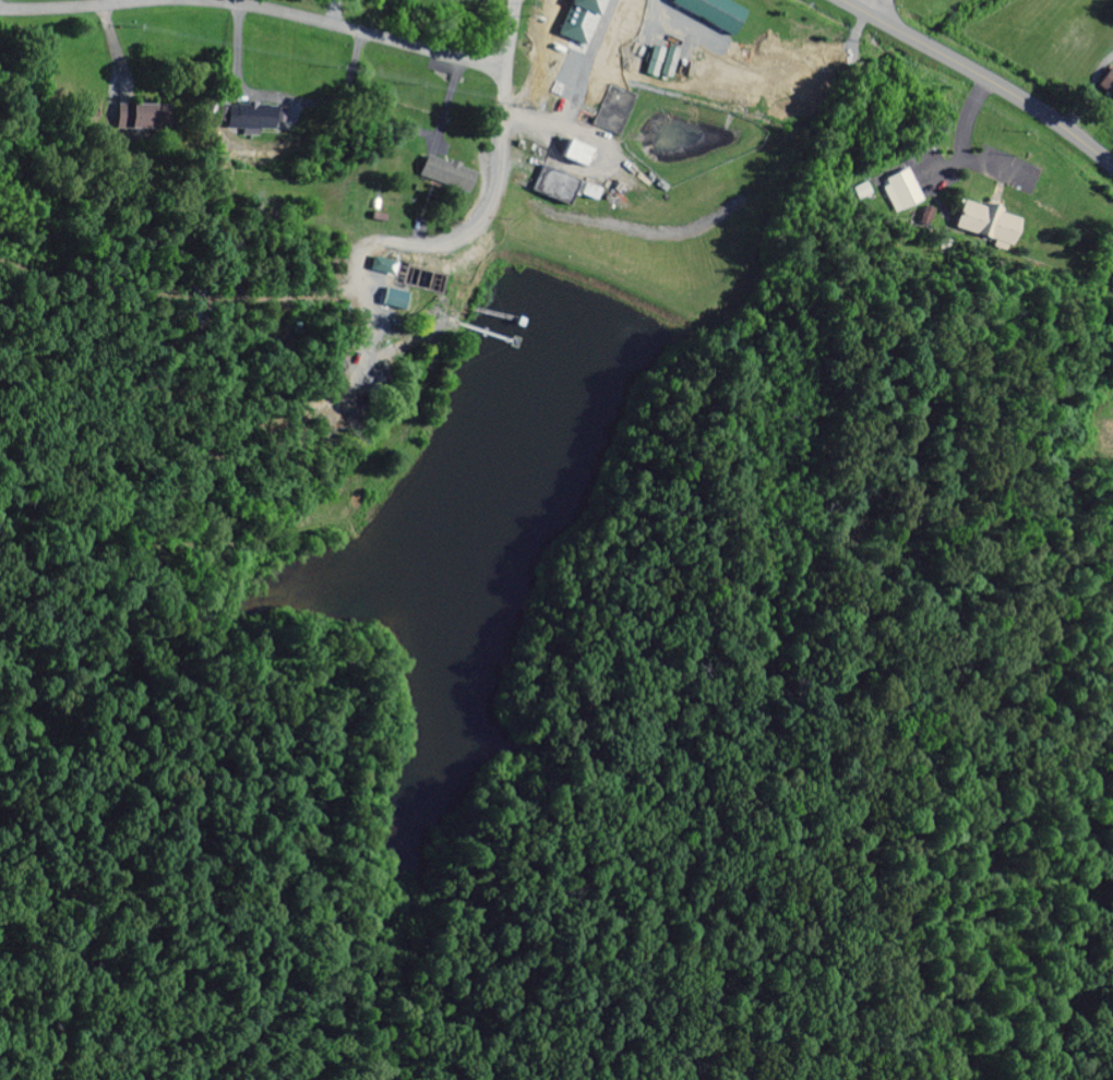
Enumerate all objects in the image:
road: (874, 7)
road: (256, 8)
building: (709, 13)
building: (613, 43)
road: (983, 76)
building: (1106, 84)
building: (611, 110)
building: (134, 118)
building: (249, 118)
building: (574, 158)
road: (501, 168)
building: (438, 176)
building: (559, 189)
building: (983, 225)
building: (378, 267)

